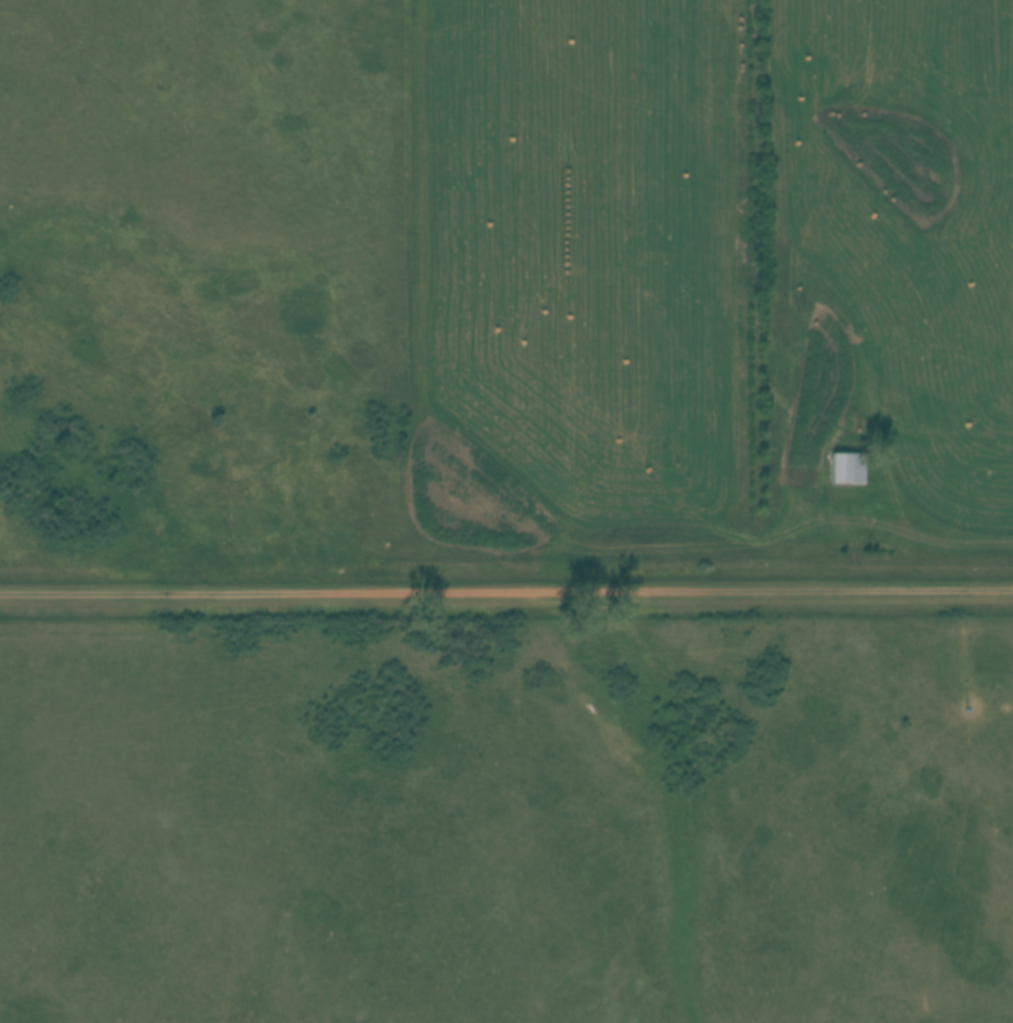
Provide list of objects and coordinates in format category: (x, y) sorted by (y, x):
road: (321, 348)
building: (847, 468)
road: (934, 530)
road: (506, 589)

